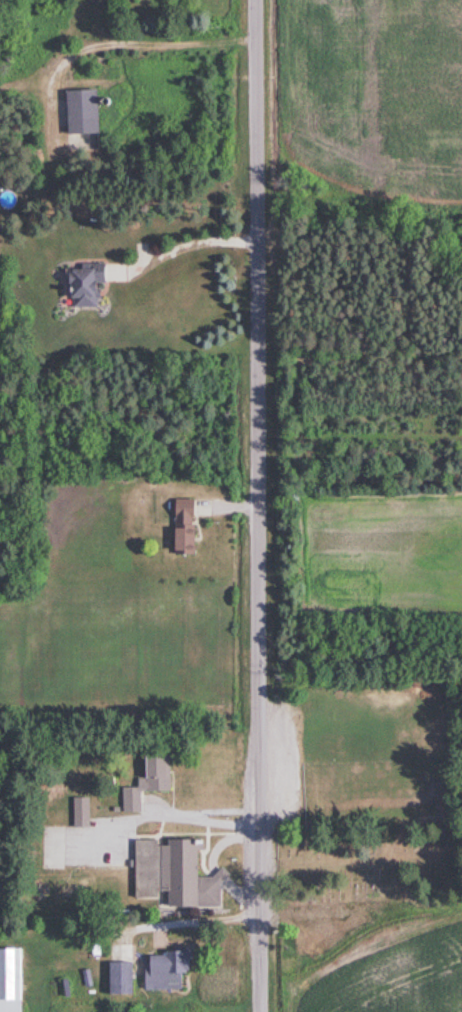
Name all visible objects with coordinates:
road: (126, 42)
building: (77, 111)
building: (80, 284)
road: (258, 506)
building: (179, 526)
building: (145, 781)
building: (79, 812)
building: (172, 873)
road: (205, 917)
building: (161, 970)
building: (118, 977)
building: (9, 980)

